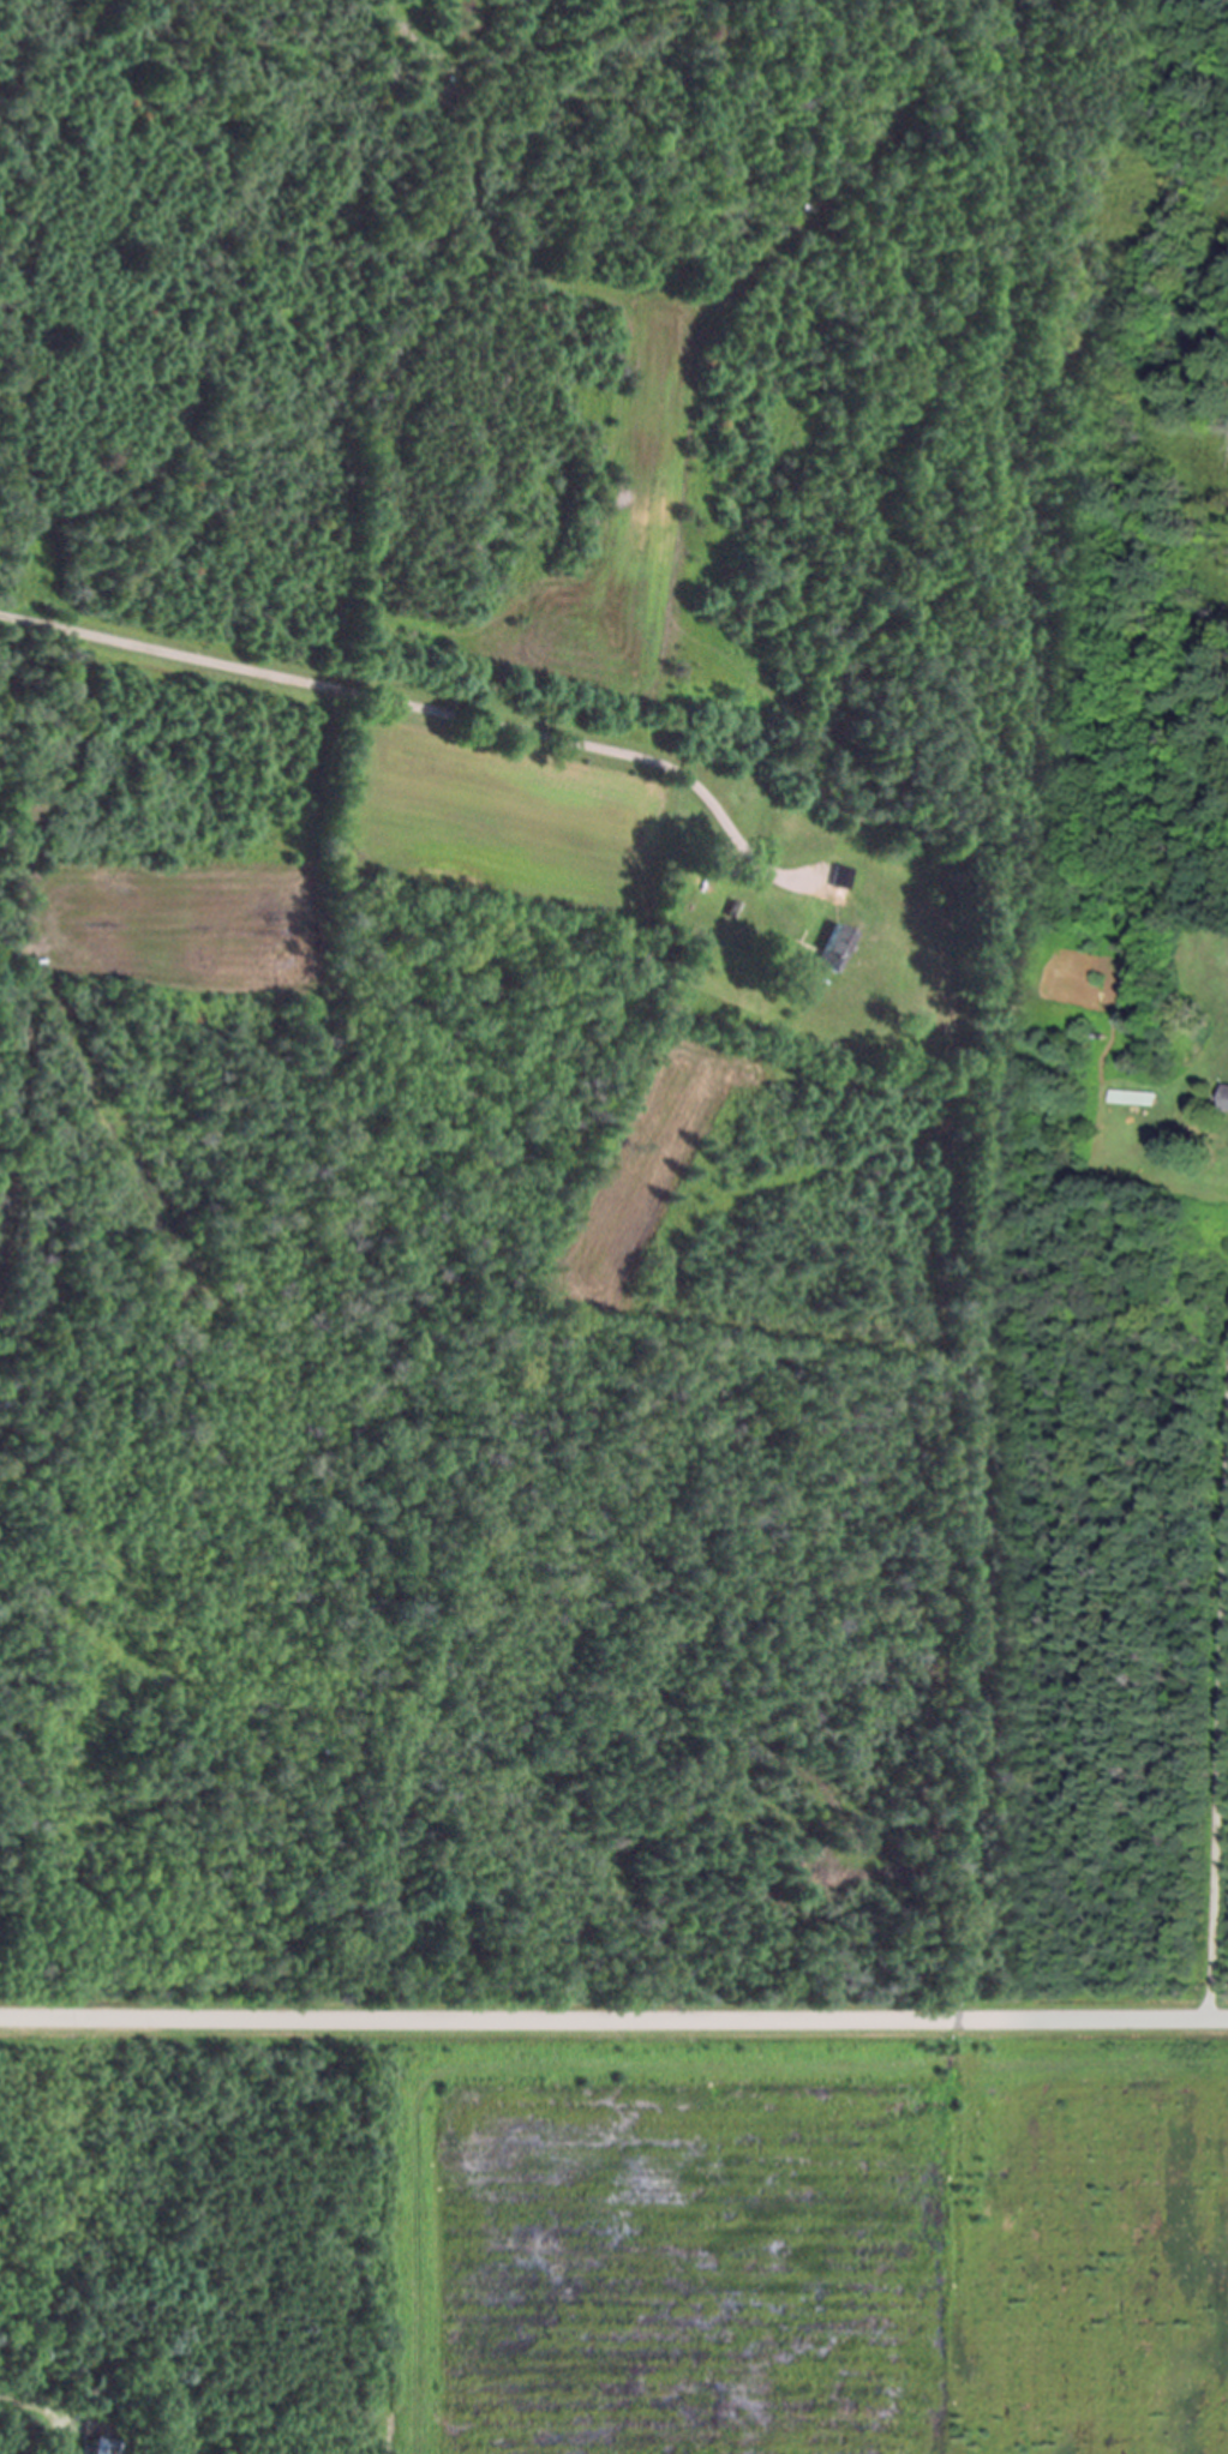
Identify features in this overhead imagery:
road: (400, 704)
building: (834, 946)
building: (1227, 1106)
road: (1217, 1720)
road: (613, 2014)
building: (104, 2447)

